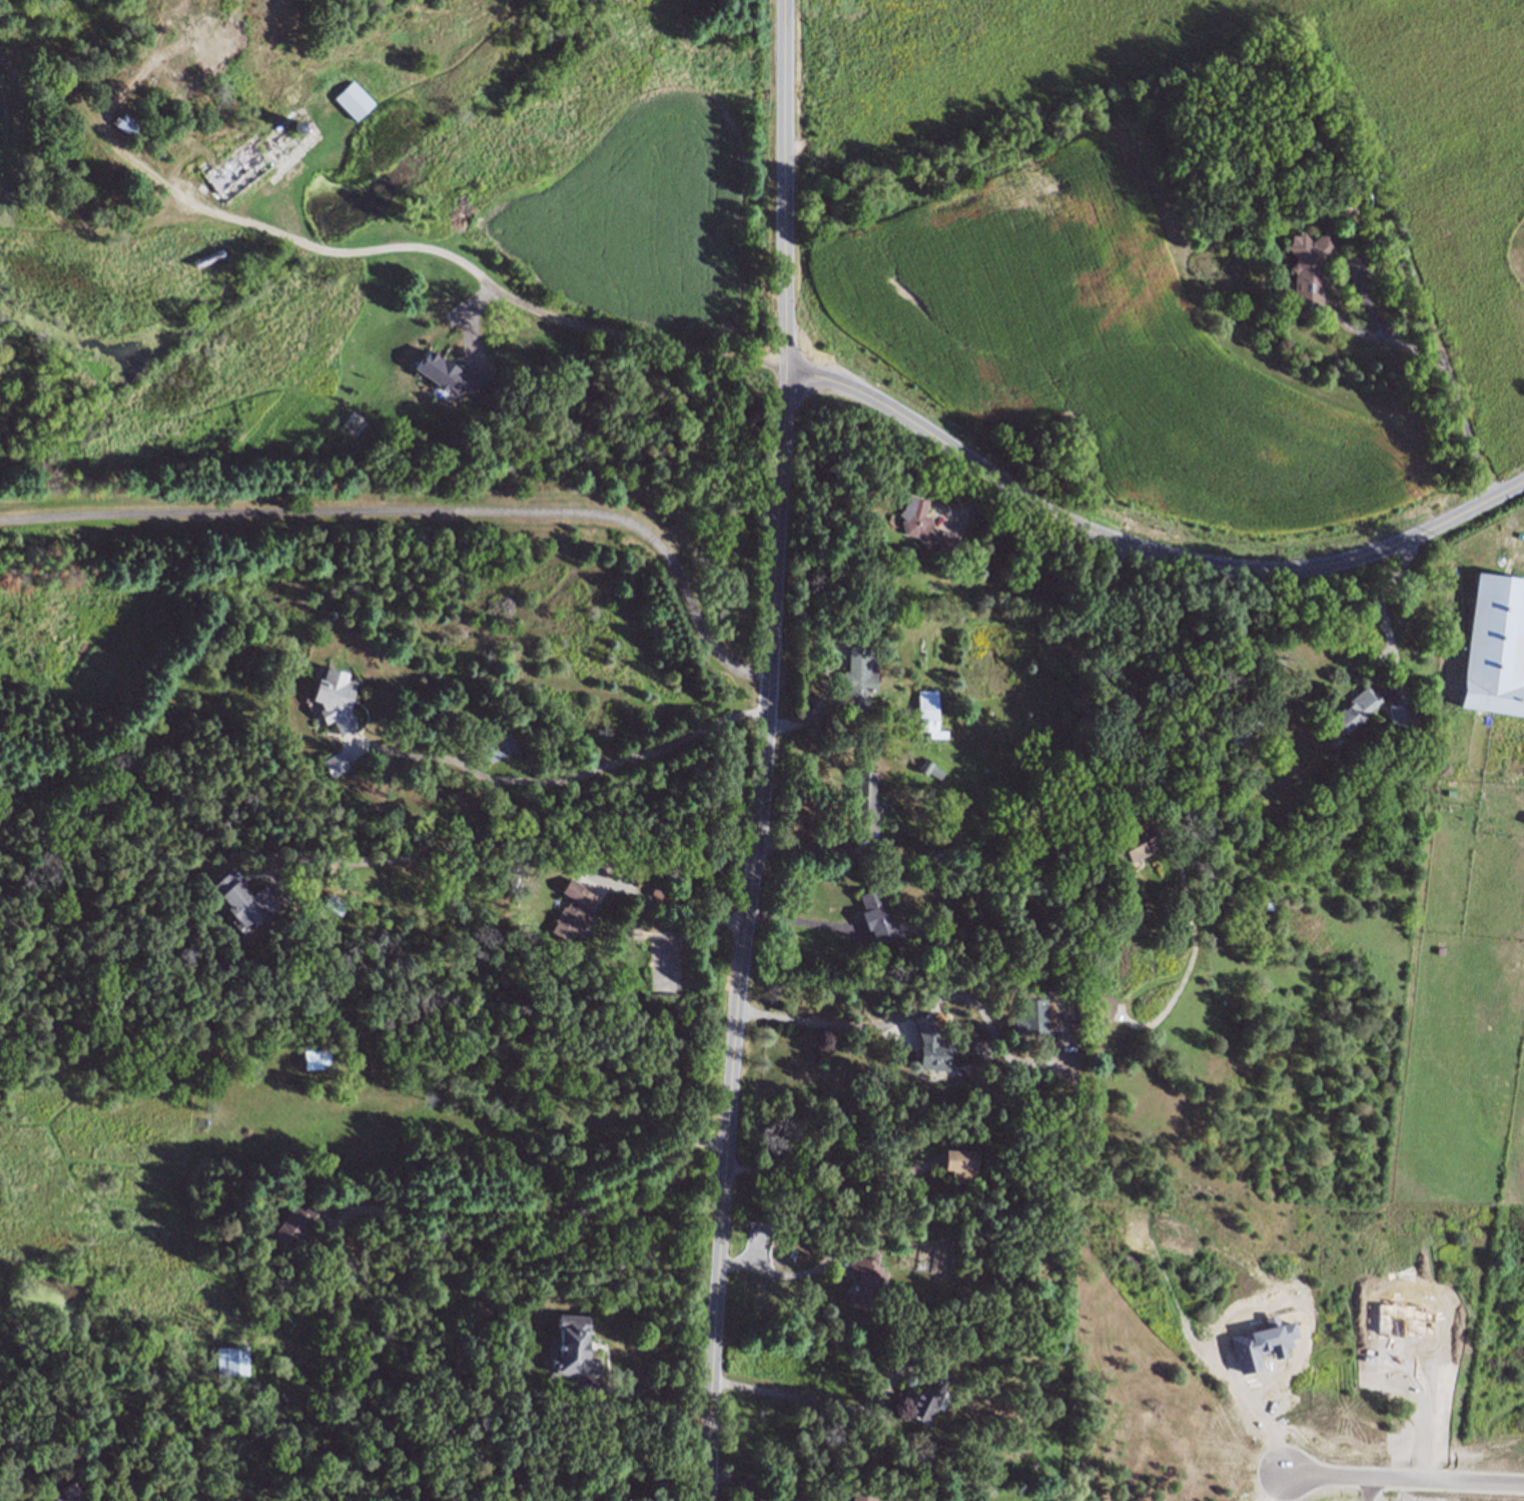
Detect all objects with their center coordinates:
building: (213, 27)
building: (354, 100)
building: (113, 116)
building: (234, 169)
building: (1348, 196)
building: (1310, 272)
road: (488, 286)
building: (442, 300)
road: (1445, 363)
road: (425, 514)
building: (919, 518)
road: (1142, 548)
road: (1381, 600)
building: (1495, 646)
building: (858, 676)
road: (1122, 680)
building: (335, 698)
building: (928, 708)
building: (1355, 711)
building: (1401, 716)
building: (1239, 726)
road: (765, 751)
building: (334, 764)
road: (567, 781)
building: (864, 797)
road: (516, 834)
building: (1132, 845)
road: (813, 850)
building: (633, 881)
building: (240, 897)
building: (1268, 904)
building: (572, 909)
road: (676, 910)
building: (876, 919)
road: (806, 921)
building: (888, 967)
building: (1104, 1004)
building: (1035, 1015)
road: (821, 1024)
building: (933, 1047)
building: (317, 1058)
building: (960, 1166)
road: (826, 1176)
road: (550, 1213)
building: (297, 1223)
building: (864, 1276)
building: (573, 1345)
building: (232, 1361)
road: (648, 1385)
building: (929, 1395)
road: (812, 1400)
road: (1261, 1412)
road: (1404, 1478)
road: (736, 1482)
building: (63, 1486)
building: (622, 1498)
building: (861, 1499)

